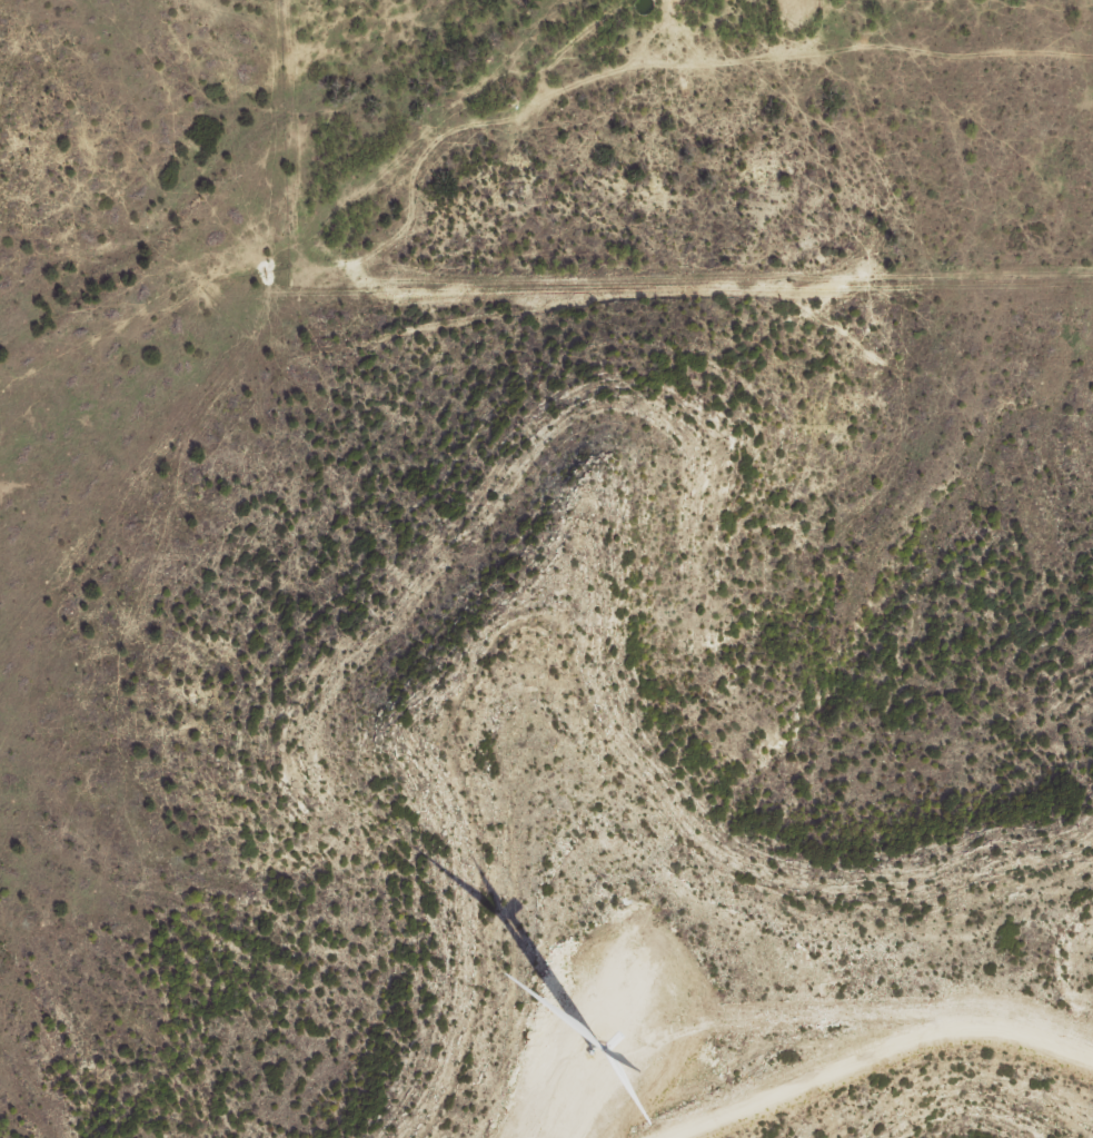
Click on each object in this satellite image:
wind turbine: (588, 1039)

